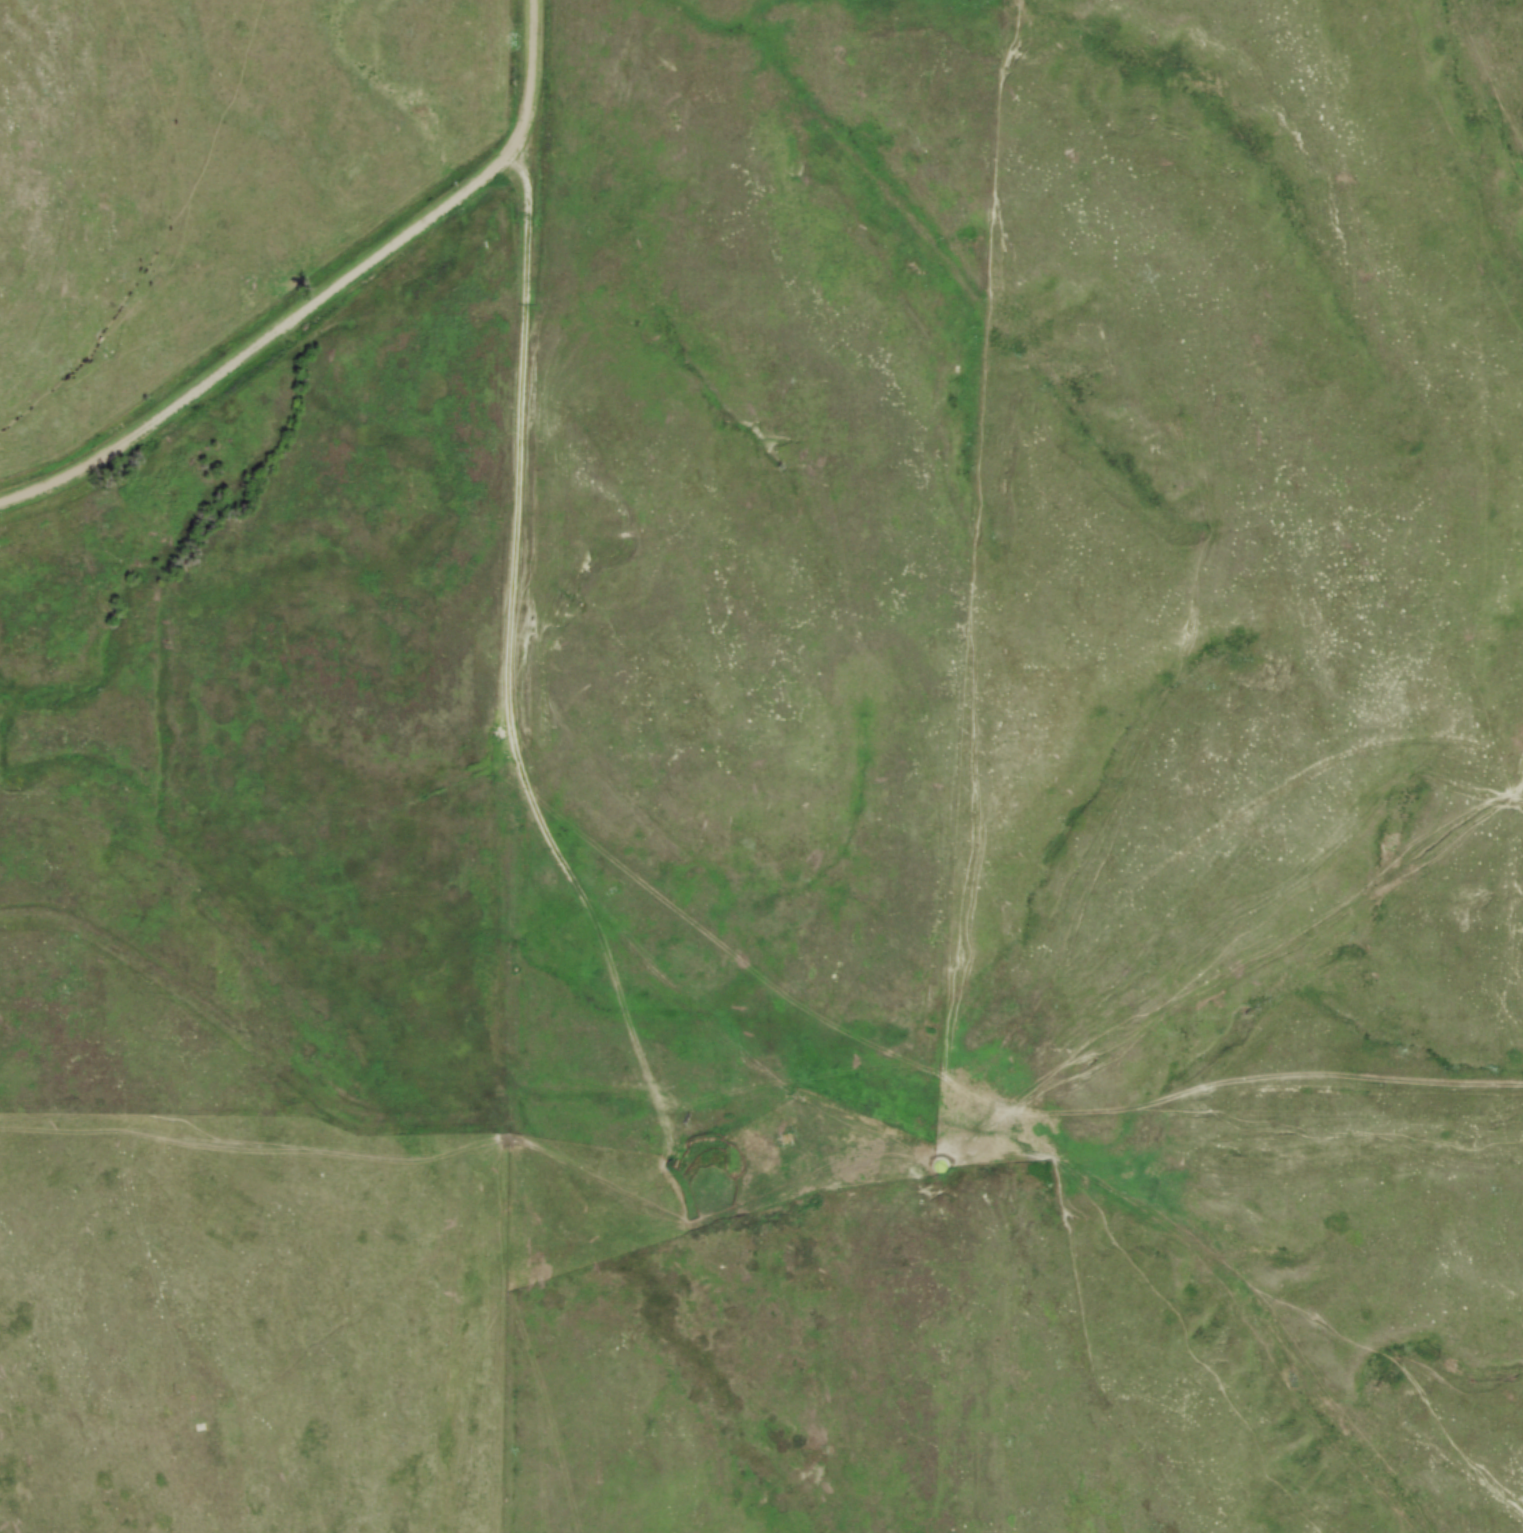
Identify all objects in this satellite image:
road: (325, 292)

